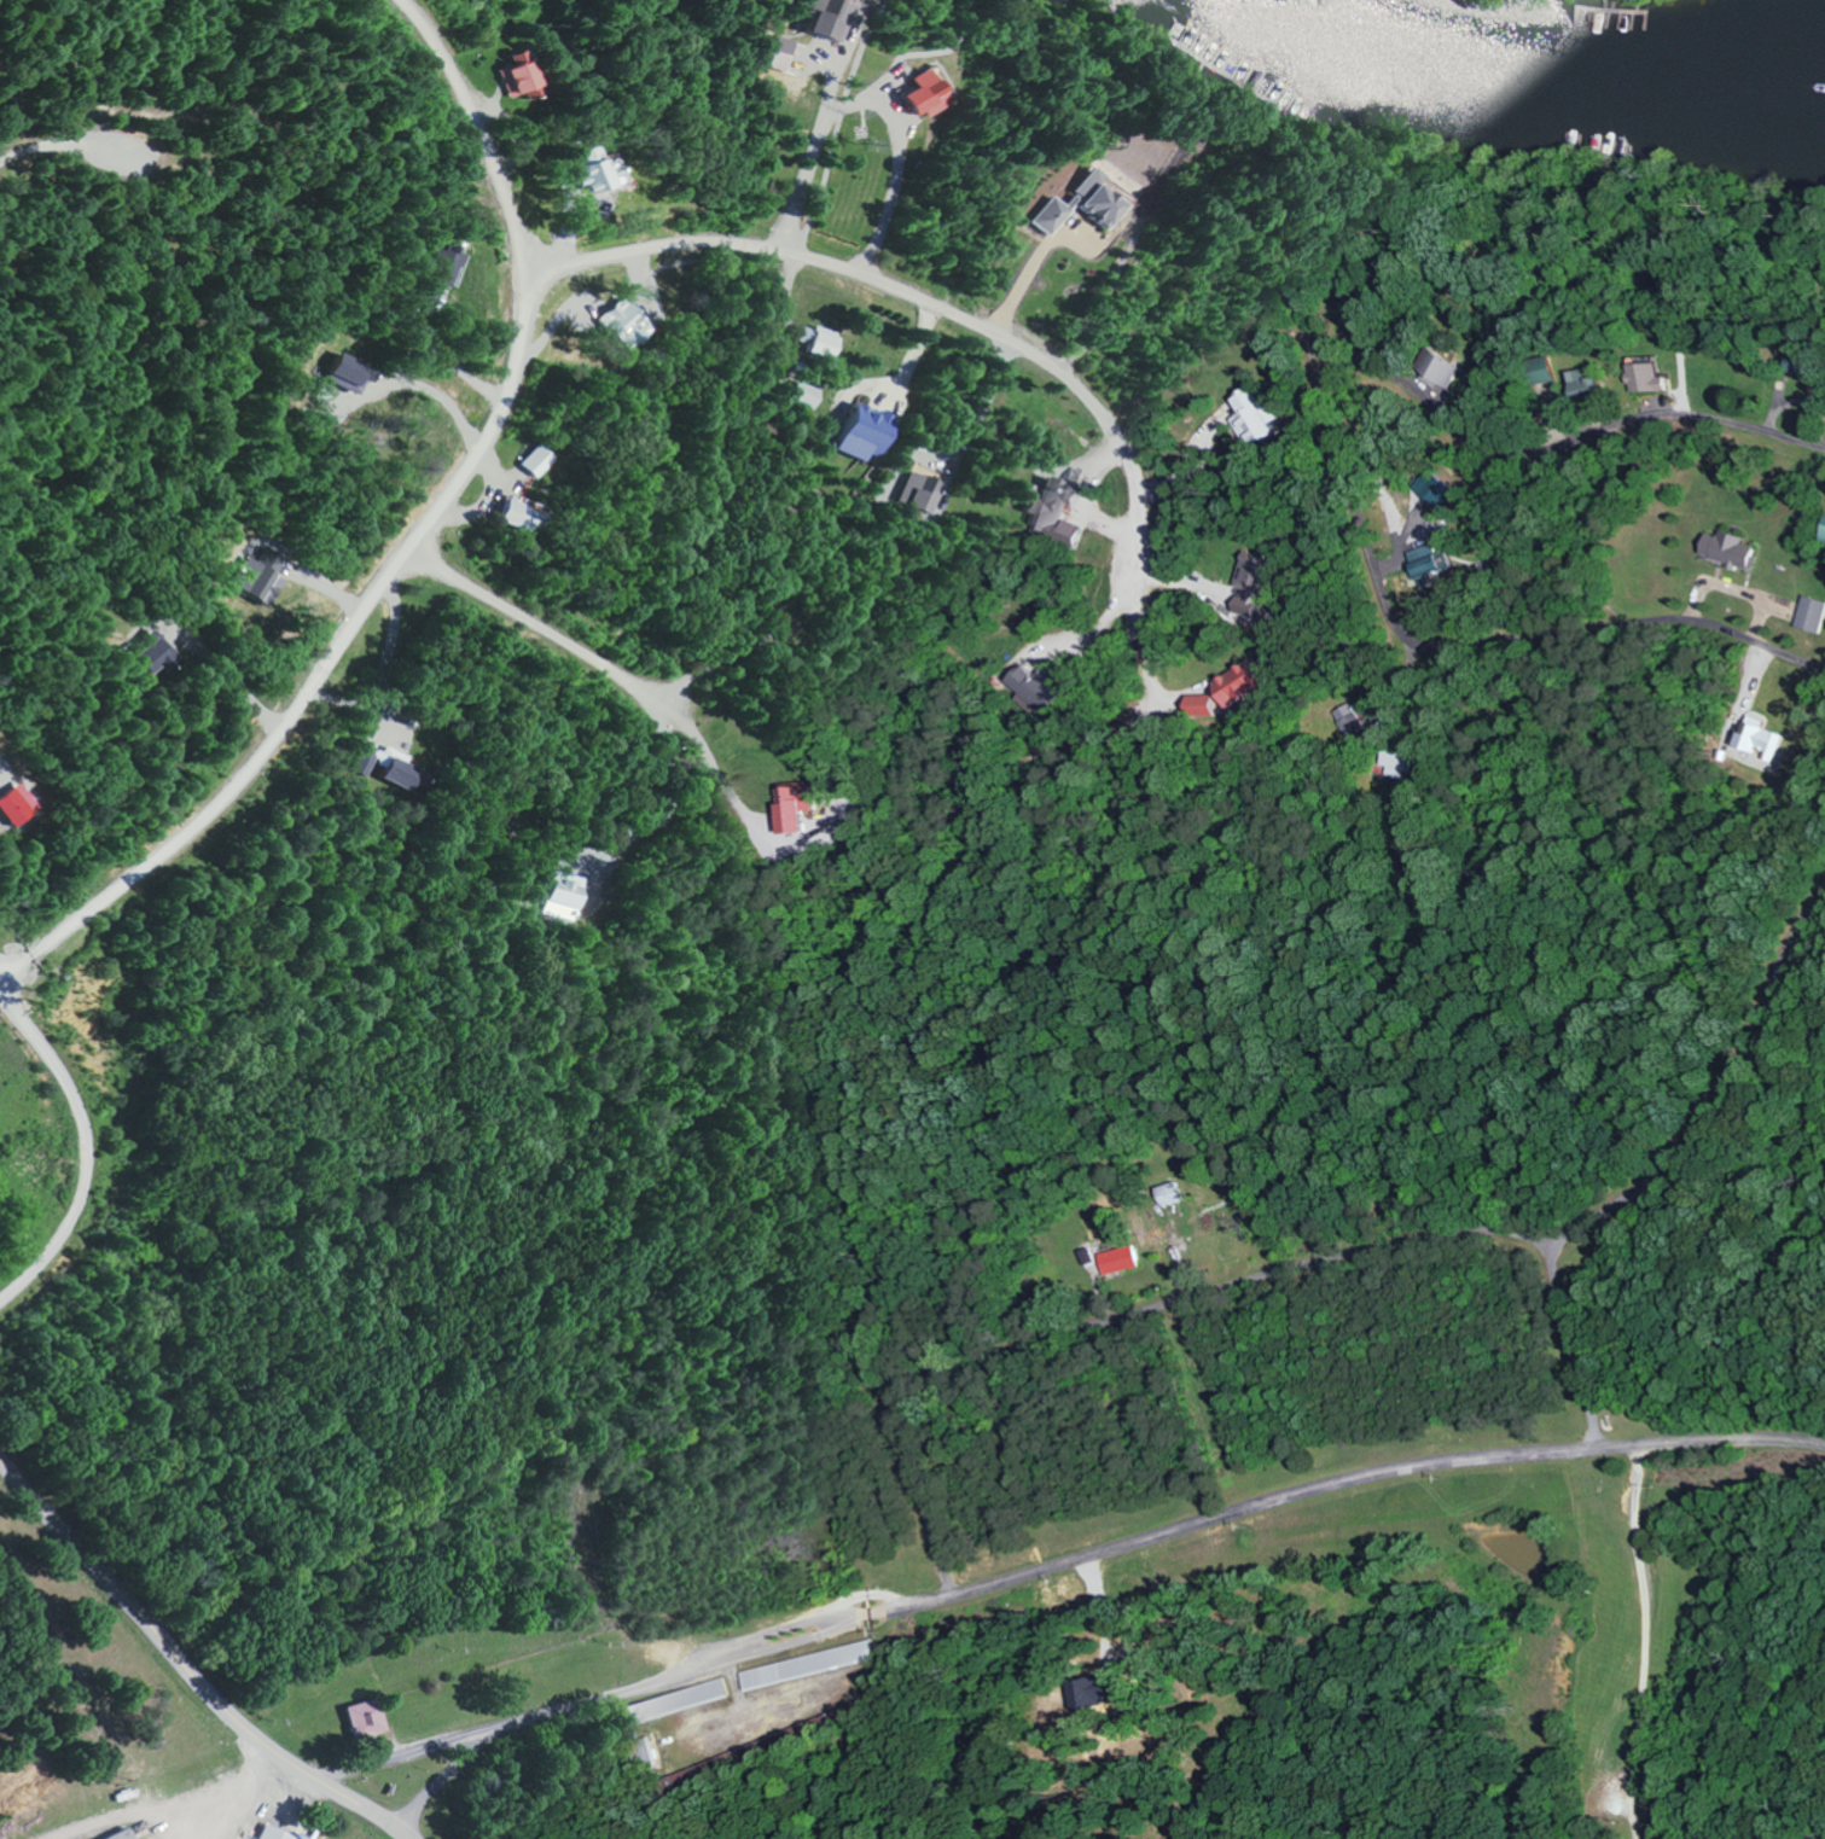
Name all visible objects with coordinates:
building: (815, 18)
building: (502, 72)
building: (908, 97)
road: (871, 100)
building: (589, 171)
building: (1066, 204)
building: (436, 272)
road: (906, 292)
building: (615, 324)
building: (813, 341)
building: (1800, 366)
building: (1440, 368)
building: (1541, 371)
building: (1646, 377)
building: (1585, 384)
building: (806, 395)
building: (1248, 417)
building: (861, 431)
building: (531, 461)
building: (1431, 490)
building: (920, 493)
building: (1048, 512)
building: (511, 516)
building: (1821, 530)
road: (409, 542)
building: (1721, 548)
building: (277, 561)
building: (1249, 581)
building: (256, 582)
building: (1808, 615)
road: (535, 621)
building: (143, 656)
building: (1031, 688)
building: (1350, 722)
building: (1759, 739)
building: (1399, 758)
building: (384, 766)
building: (13, 804)
building: (787, 808)
building: (560, 895)
road: (82, 1140)
building: (1173, 1194)
building: (1121, 1259)
road: (1255, 1315)
road: (560, 1525)
road: (86, 1559)
road: (1085, 1585)
road: (630, 1601)
road: (1627, 1649)
park: (6, 1661)
building: (807, 1665)
building: (673, 1703)
building: (358, 1719)
road: (284, 1759)
park: (1205, 1775)
building: (266, 1834)
building: (117, 1835)

